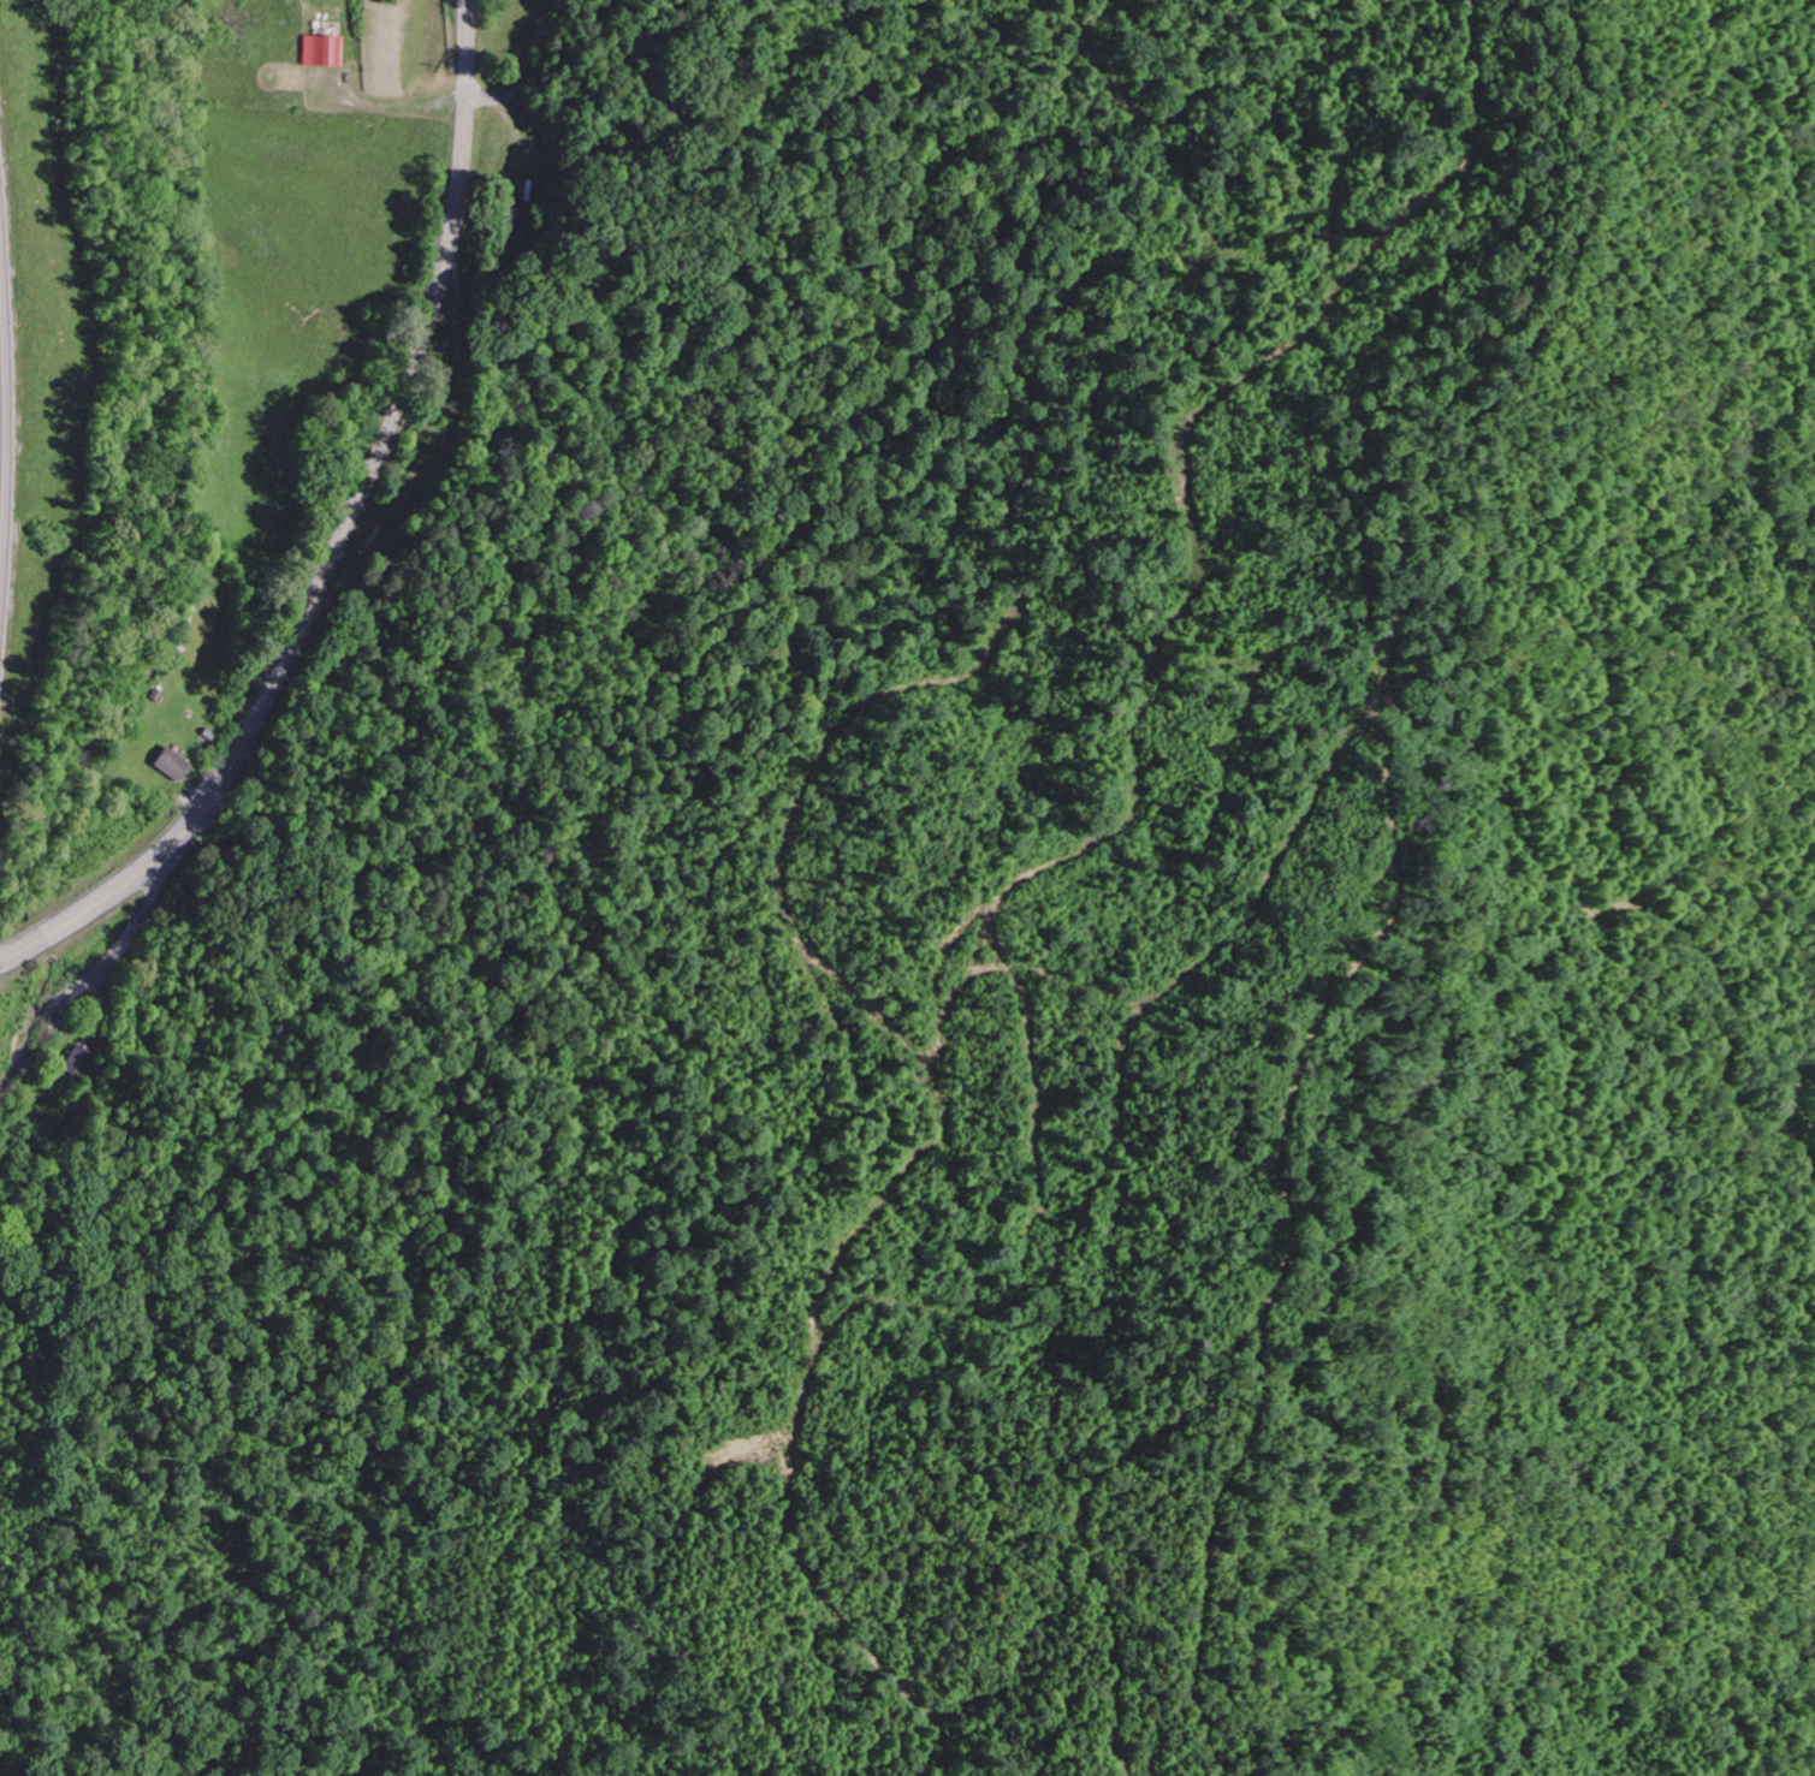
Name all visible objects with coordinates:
building: (321, 52)
building: (516, 213)
road: (346, 540)
building: (171, 766)
road: (1792, 1113)

